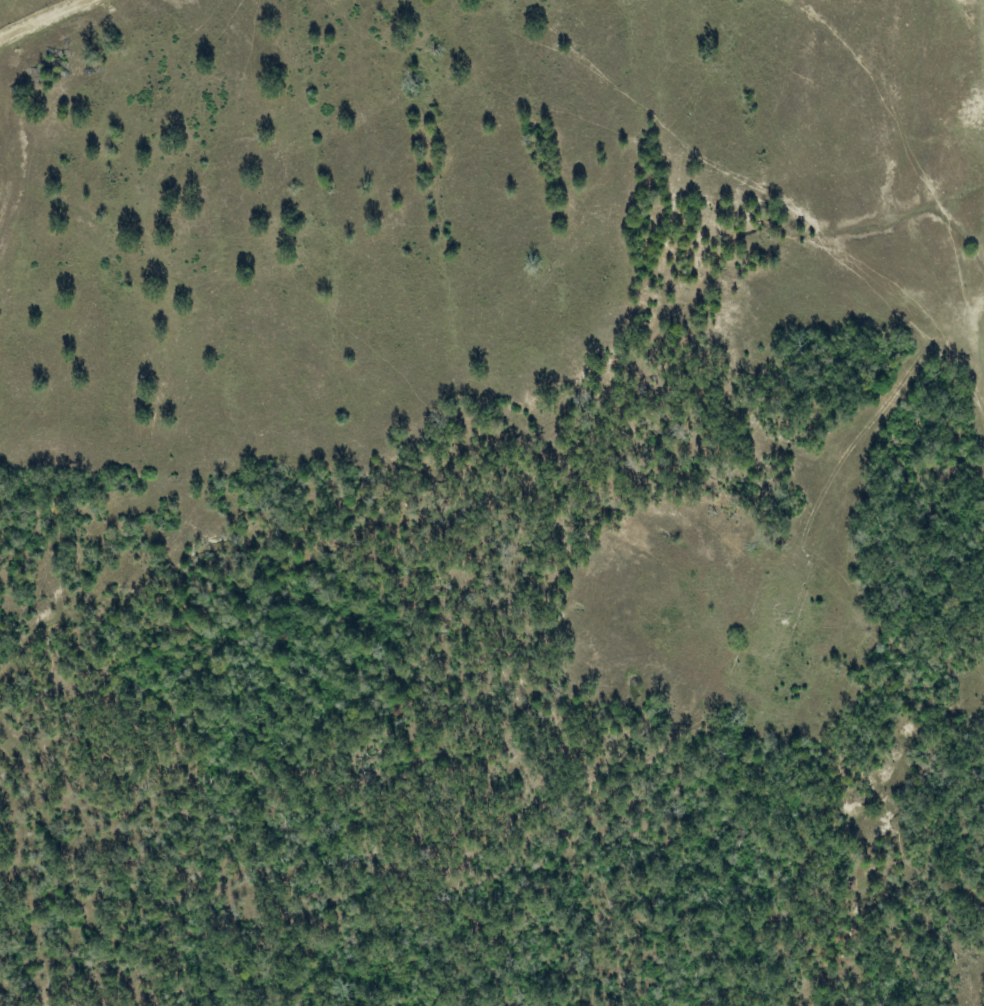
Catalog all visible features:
road: (52, 21)

